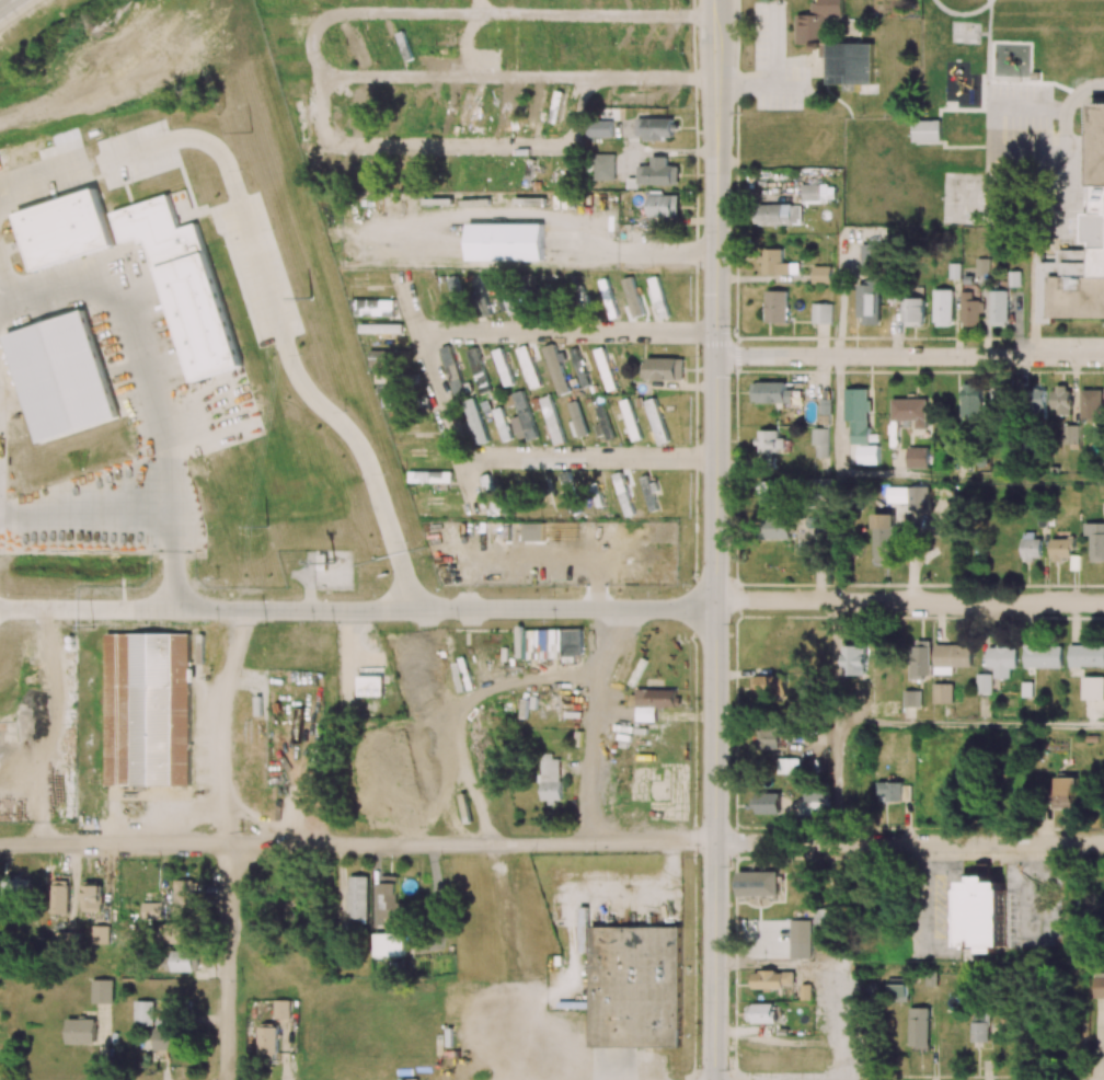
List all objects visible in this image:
road: (4, 3)
road: (716, 8)
building: (817, 24)
building: (436, 27)
road: (313, 45)
building: (358, 45)
building: (505, 45)
building: (404, 46)
road: (715, 47)
building: (436, 50)
park: (923, 55)
building: (850, 62)
road: (1080, 89)
building: (629, 97)
building: (557, 106)
building: (353, 107)
building: (441, 107)
building: (533, 107)
building: (463, 108)
building: (510, 110)
road: (715, 115)
building: (300, 119)
building: (599, 128)
building: (655, 128)
building: (925, 130)
power tower: (251, 131)
road: (449, 145)
road: (628, 147)
road: (993, 150)
road: (671, 151)
building: (330, 165)
building: (603, 166)
building: (418, 172)
building: (658, 172)
building: (818, 193)
building: (662, 206)
road: (544, 214)
building: (778, 214)
building: (65, 229)
building: (506, 241)
road: (1038, 252)
building: (1079, 253)
building: (872, 255)
building: (777, 263)
building: (982, 266)
building: (821, 274)
building: (1014, 278)
building: (184, 285)
building: (606, 287)
building: (455, 288)
power tower: (310, 297)
building: (869, 301)
road: (410, 305)
building: (375, 306)
building: (777, 306)
building: (943, 307)
building: (999, 307)
building: (970, 310)
building: (913, 311)
building: (821, 313)
road: (279, 333)
traffic signals: (716, 341)
building: (383, 358)
road: (910, 358)
building: (503, 367)
building: (579, 367)
building: (663, 368)
building: (452, 369)
building: (529, 369)
building: (556, 369)
building: (478, 370)
building: (62, 376)
road: (434, 376)
building: (387, 382)
building: (771, 392)
building: (999, 400)
building: (1062, 400)
building: (970, 401)
building: (1039, 401)
building: (1092, 404)
building: (910, 411)
building: (858, 413)
road: (838, 417)
building: (522, 418)
building: (552, 420)
building: (576, 420)
building: (630, 420)
building: (474, 422)
building: (656, 422)
building: (602, 424)
building: (1070, 434)
building: (769, 440)
building: (820, 441)
building: (419, 451)
building: (869, 453)
building: (918, 457)
building: (433, 476)
road: (970, 478)
road: (468, 483)
building: (487, 484)
building: (769, 492)
building: (622, 494)
building: (920, 497)
road: (80, 516)
power tower: (267, 525)
building: (775, 528)
building: (533, 531)
building: (884, 536)
road: (837, 538)
building: (1097, 542)
building: (1031, 545)
building: (1061, 549)
road: (625, 551)
road: (554, 552)
road: (169, 562)
road: (909, 600)
road: (358, 611)
road: (715, 614)
power tower: (92, 625)
power tower: (264, 625)
building: (550, 643)
building: (1043, 656)
building: (1086, 656)
building: (951, 657)
building: (921, 658)
building: (854, 659)
building: (1001, 659)
road: (836, 663)
building: (985, 683)
building: (370, 686)
building: (769, 686)
building: (1093, 688)
building: (1026, 689)
building: (942, 692)
building: (912, 698)
building: (652, 702)
building: (148, 709)
road: (221, 726)
road: (969, 726)
building: (767, 737)
building: (787, 766)
building: (550, 779)
road: (836, 785)
road: (294, 786)
building: (895, 791)
building: (815, 792)
building: (1065, 792)
building: (767, 803)
road: (152, 814)
road: (909, 845)
road: (357, 847)
road: (671, 848)
building: (758, 883)
building: (18, 889)
building: (186, 895)
building: (60, 896)
building: (91, 896)
building: (389, 896)
building: (358, 898)
building: (982, 909)
building: (152, 910)
building: (826, 916)
road: (571, 932)
building: (183, 933)
building: (101, 934)
building: (66, 938)
building: (801, 939)
building: (390, 944)
building: (182, 961)
road: (227, 963)
road: (910, 965)
building: (773, 980)
building: (633, 984)
building: (1099, 985)
building: (102, 990)
building: (898, 990)
building: (281, 1009)
building: (761, 1012)
building: (143, 1013)
road: (838, 1022)
building: (980, 1026)
building: (919, 1027)
building: (81, 1031)
building: (168, 1038)
building: (268, 1041)

